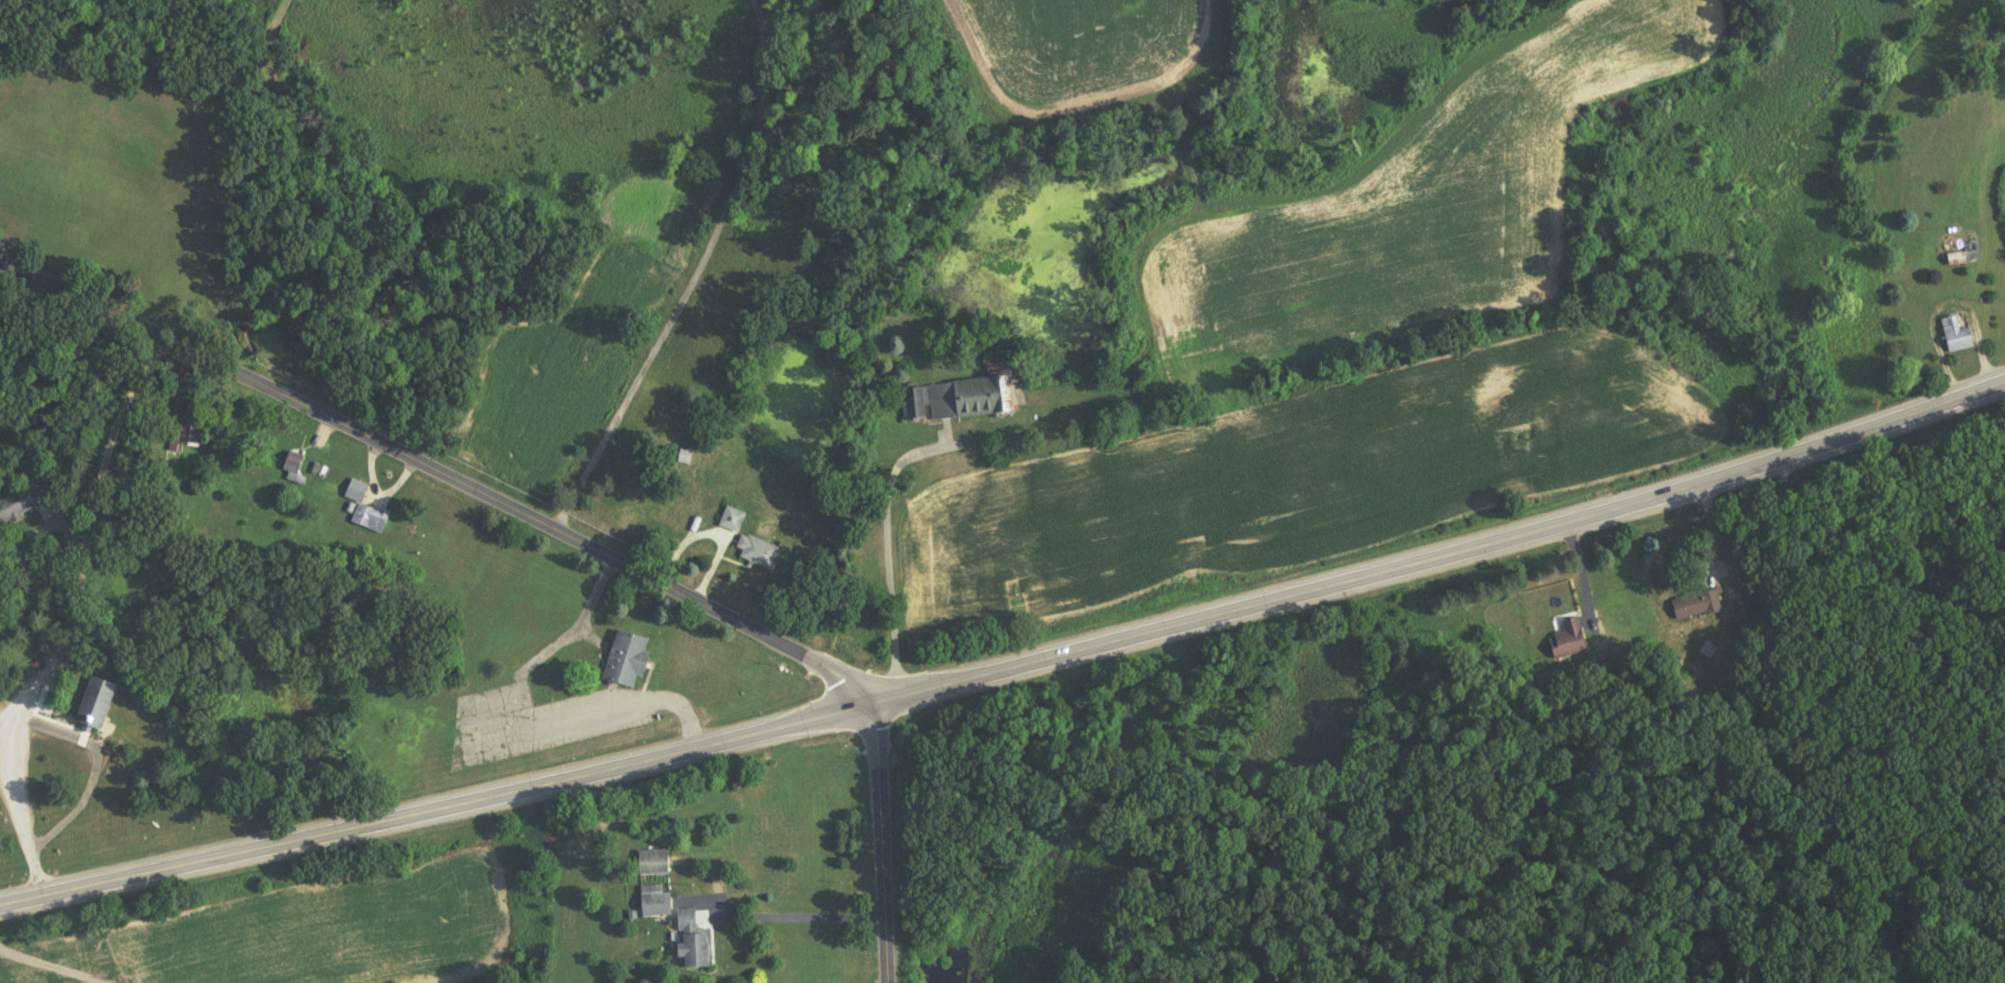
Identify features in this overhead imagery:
building: (1962, 259)
building: (1957, 336)
building: (963, 399)
road: (1883, 404)
building: (182, 437)
building: (41, 448)
road: (439, 471)
building: (26, 503)
building: (366, 510)
building: (736, 521)
road: (887, 544)
building: (760, 553)
road: (1322, 568)
building: (1699, 606)
road: (82, 611)
building: (1570, 642)
building: (628, 661)
building: (96, 710)
road: (440, 790)
road: (884, 831)
building: (656, 864)
building: (658, 907)
road: (799, 918)
building: (696, 943)
road: (45, 965)

